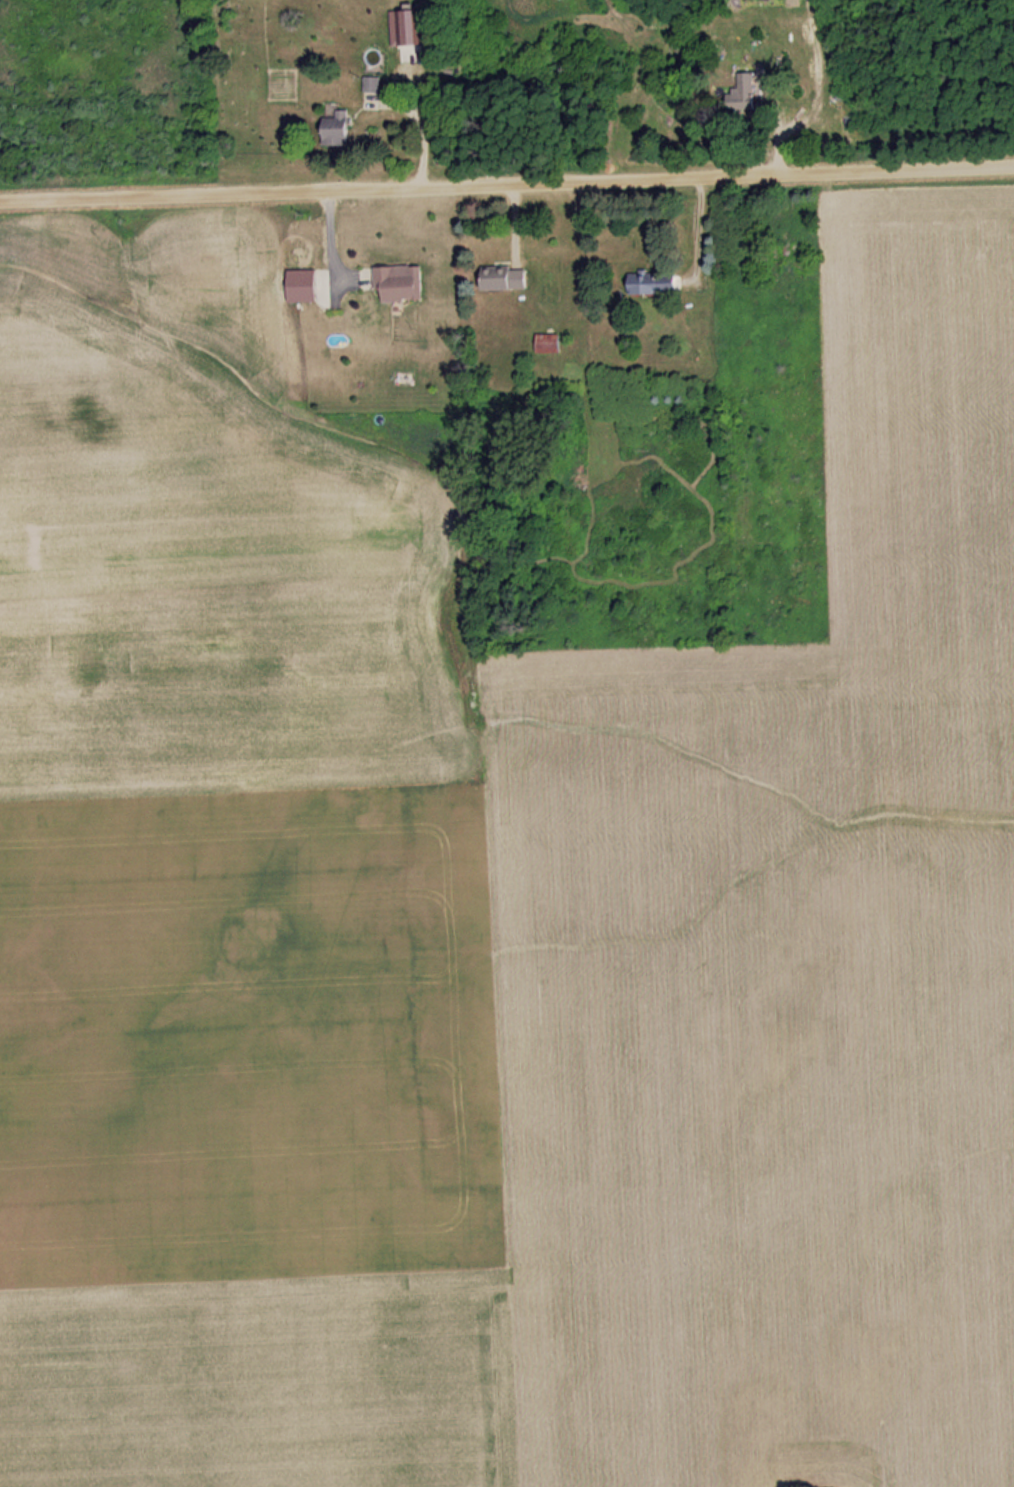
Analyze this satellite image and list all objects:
building: (375, 84)
building: (749, 92)
building: (342, 129)
road: (507, 179)
building: (509, 278)
building: (657, 282)
building: (404, 284)
building: (551, 344)

